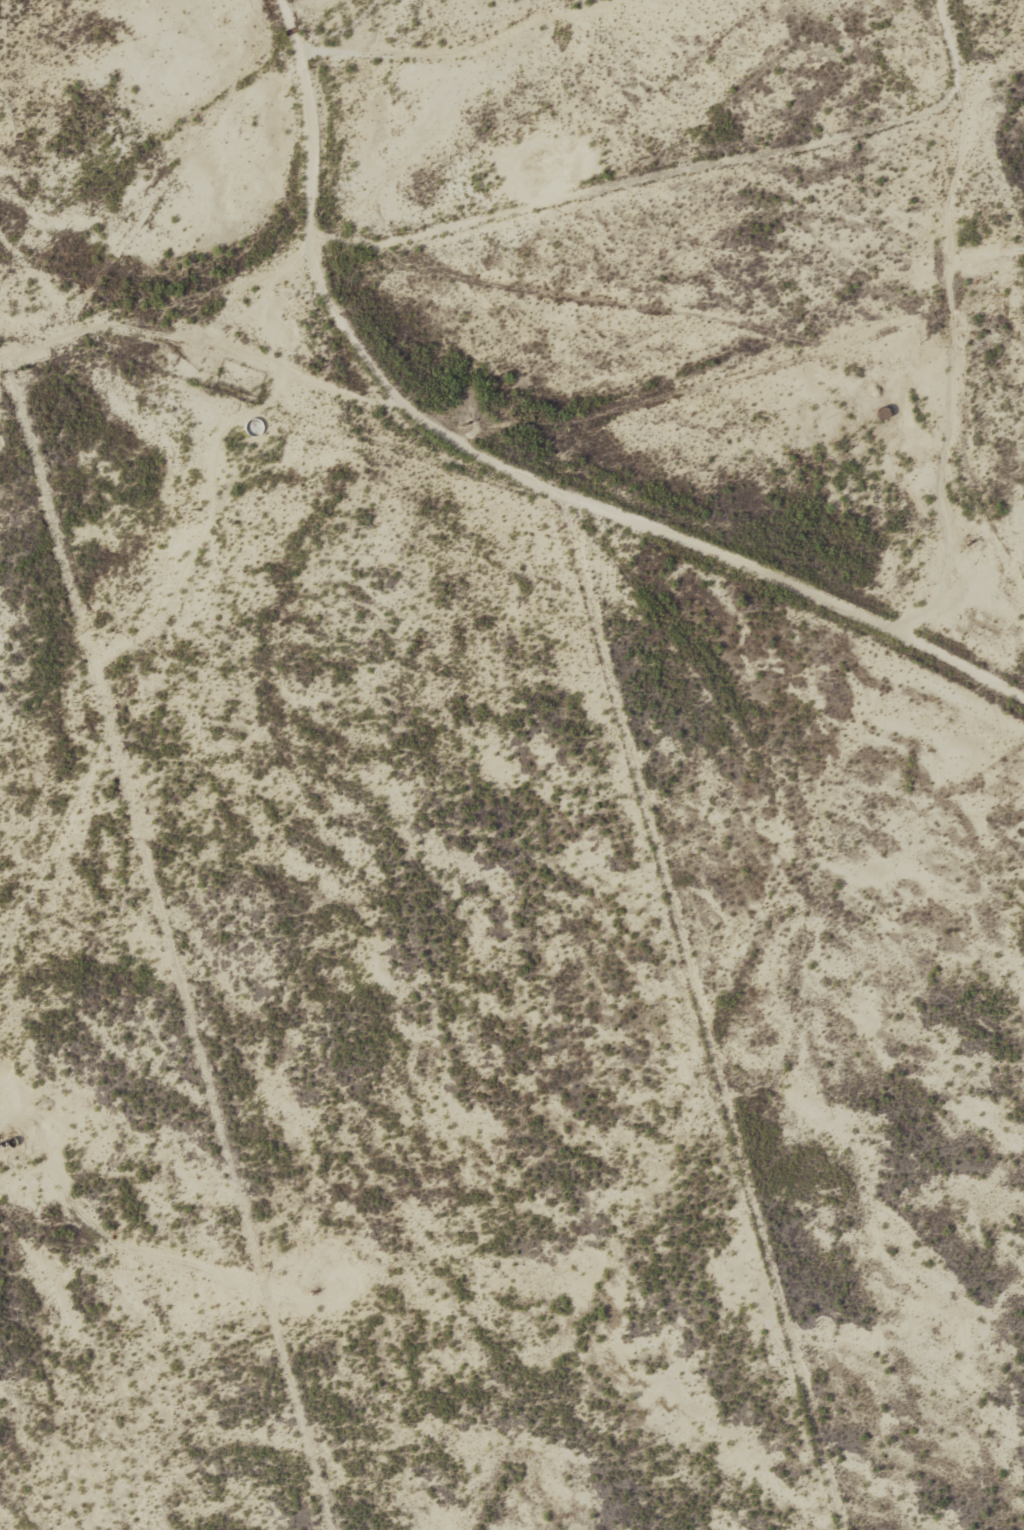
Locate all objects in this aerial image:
road: (441, 44)
road: (314, 133)
road: (676, 171)
road: (159, 306)
road: (710, 386)
road: (954, 411)
road: (638, 524)
road: (148, 1247)

